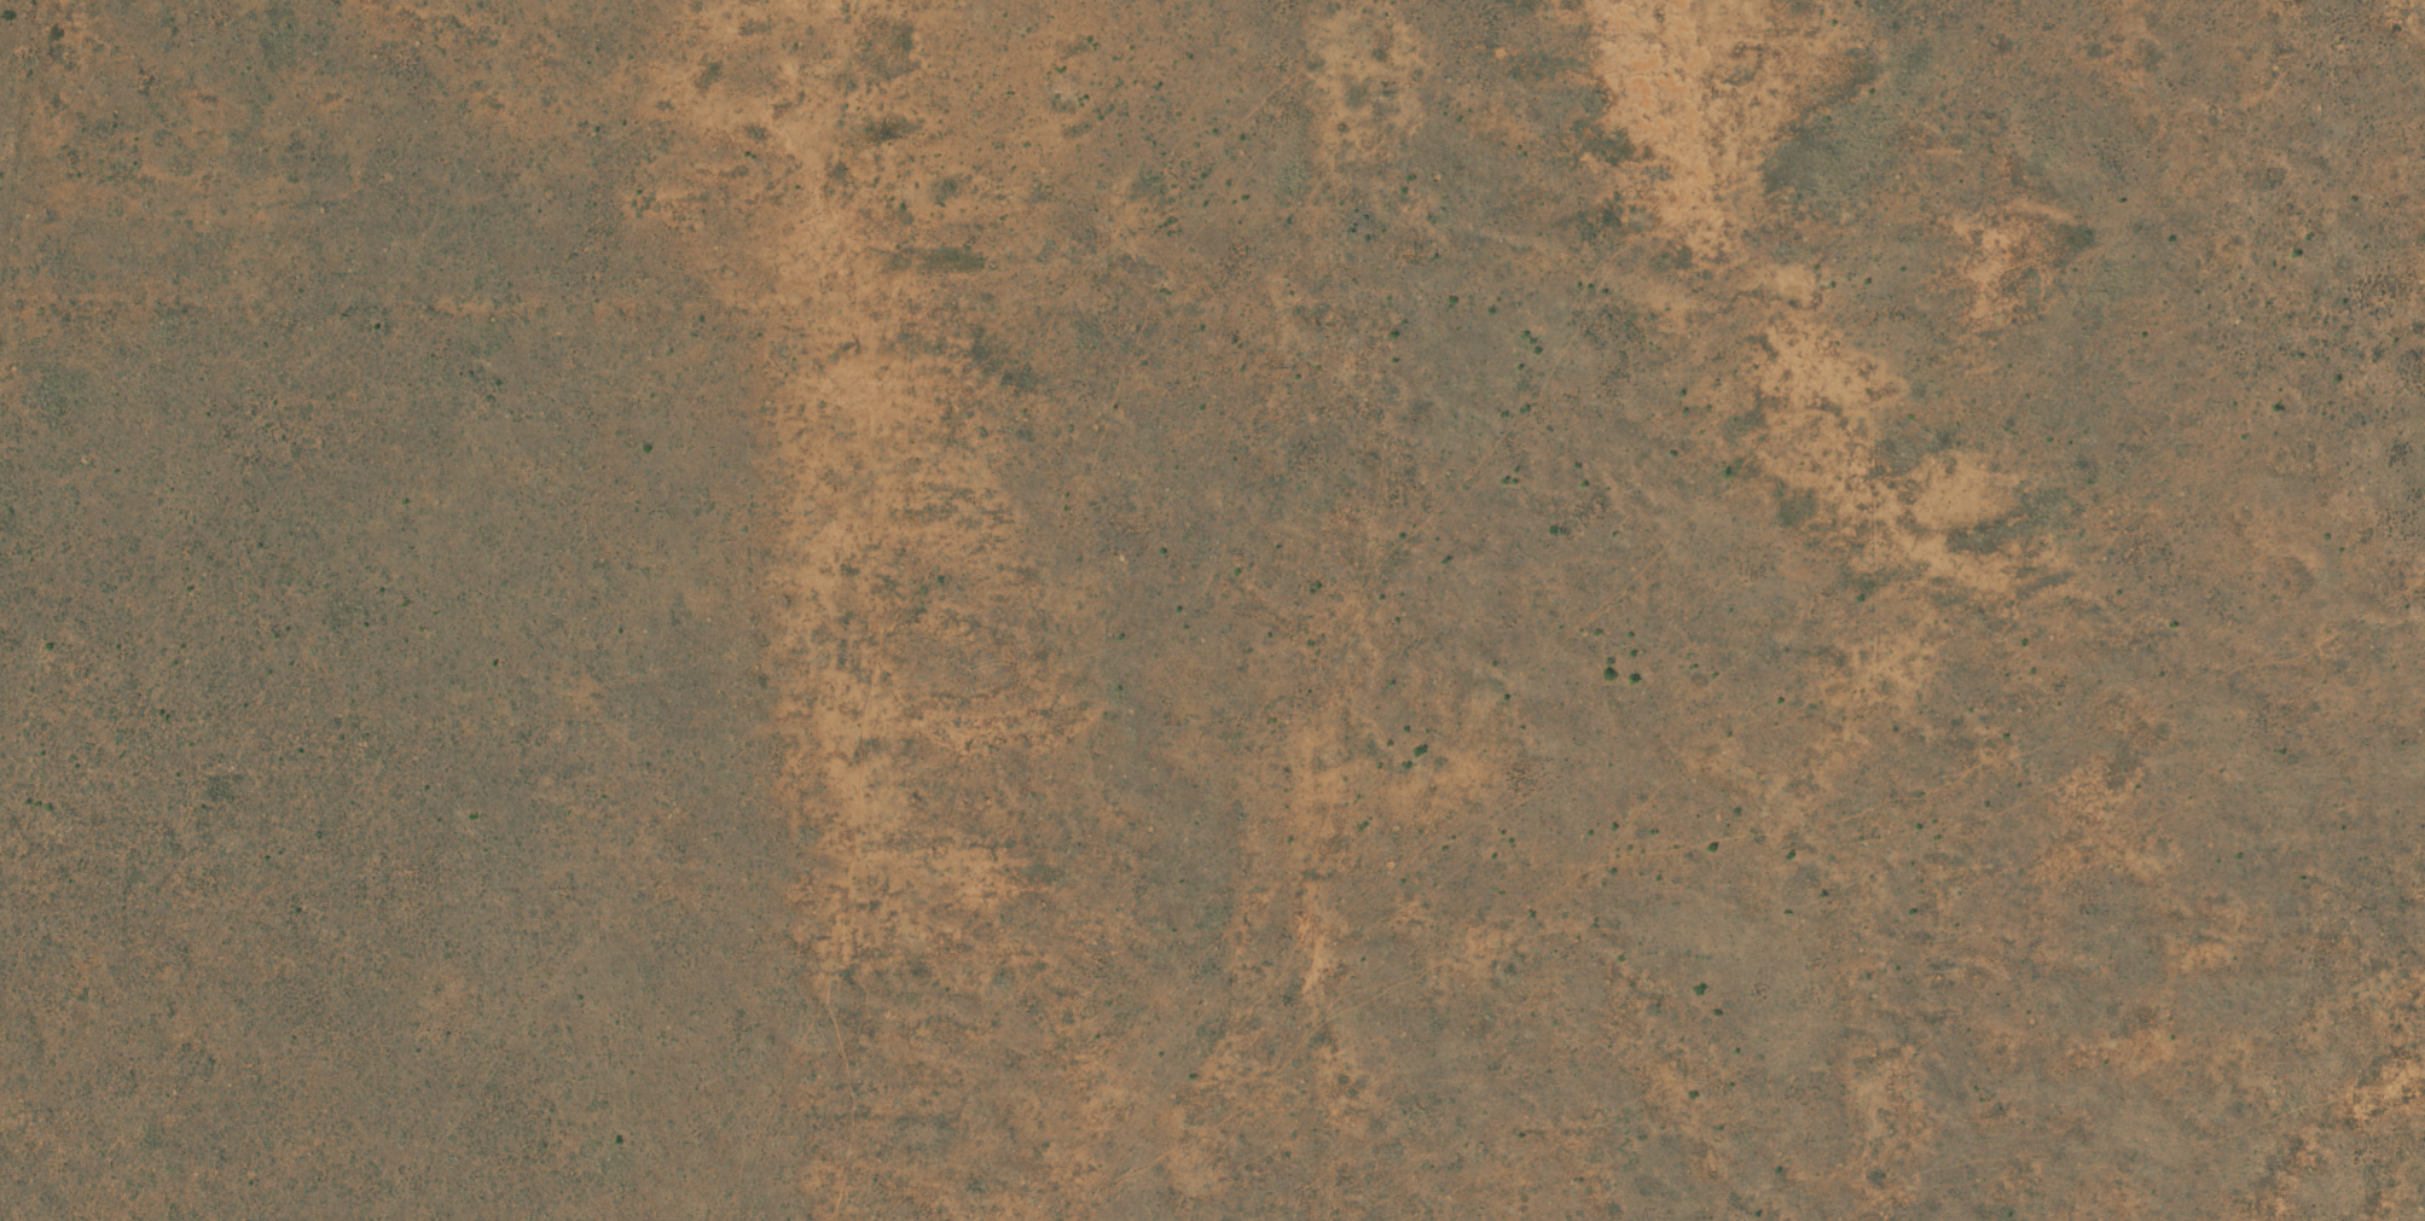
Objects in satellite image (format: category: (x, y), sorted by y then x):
road: (144, 574)

